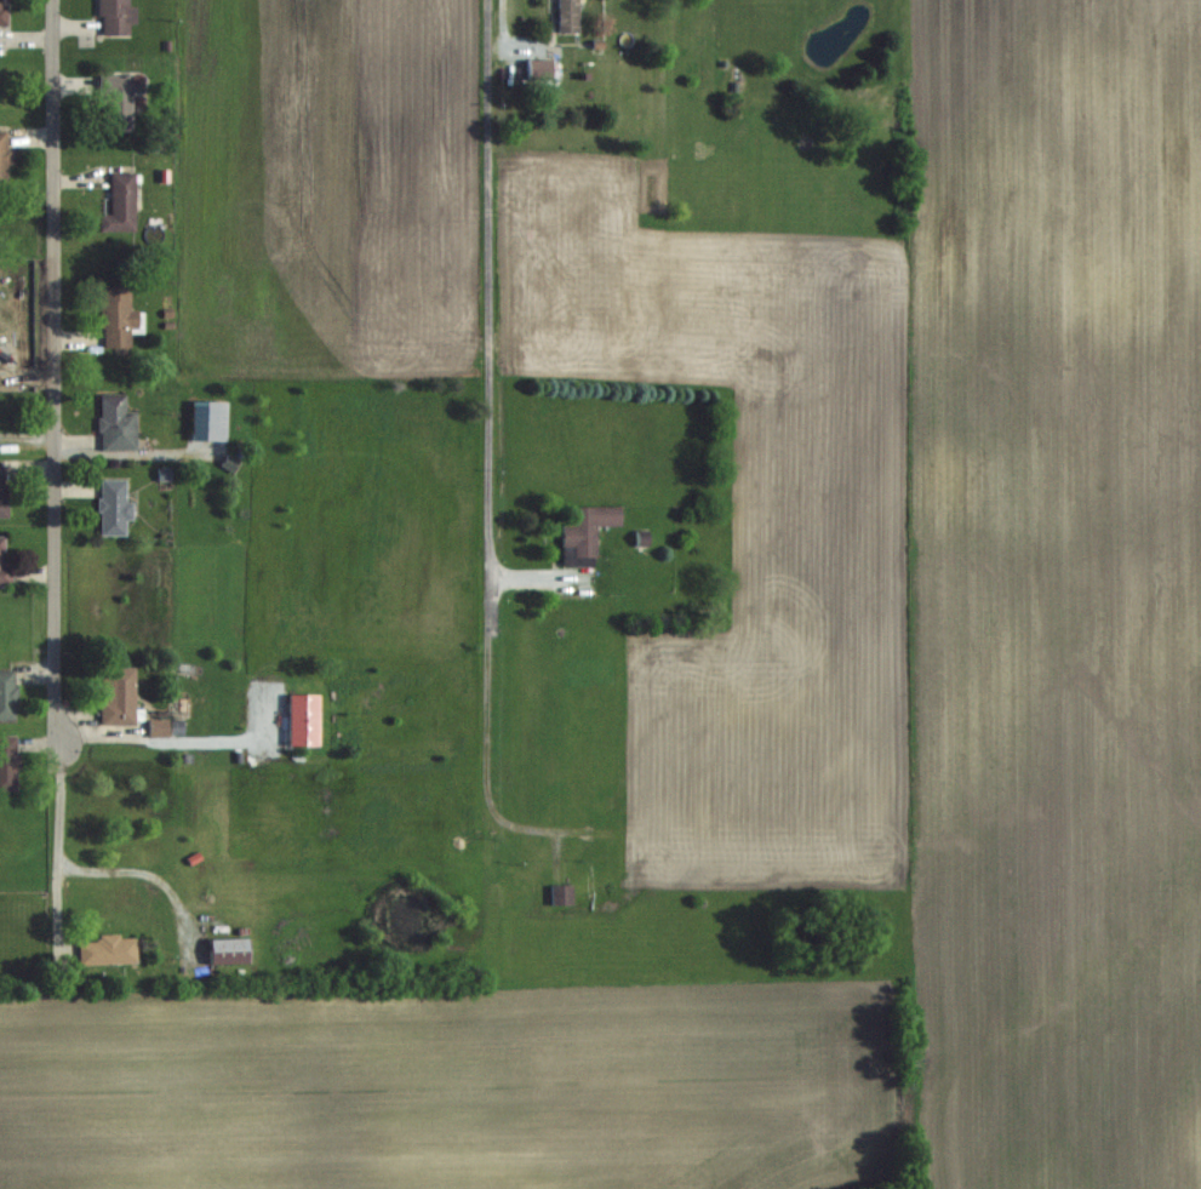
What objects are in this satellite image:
building: (4, 12)
road: (503, 16)
building: (568, 16)
building: (116, 17)
building: (539, 68)
building: (119, 102)
building: (5, 158)
building: (121, 205)
road: (487, 291)
building: (119, 319)
road: (56, 375)
building: (208, 422)
building: (116, 424)
building: (2, 491)
building: (114, 508)
building: (588, 527)
building: (4, 566)
building: (7, 693)
building: (118, 696)
building: (165, 727)
building: (7, 761)
road: (55, 848)
road: (145, 875)
building: (561, 894)
building: (108, 950)
building: (228, 951)

